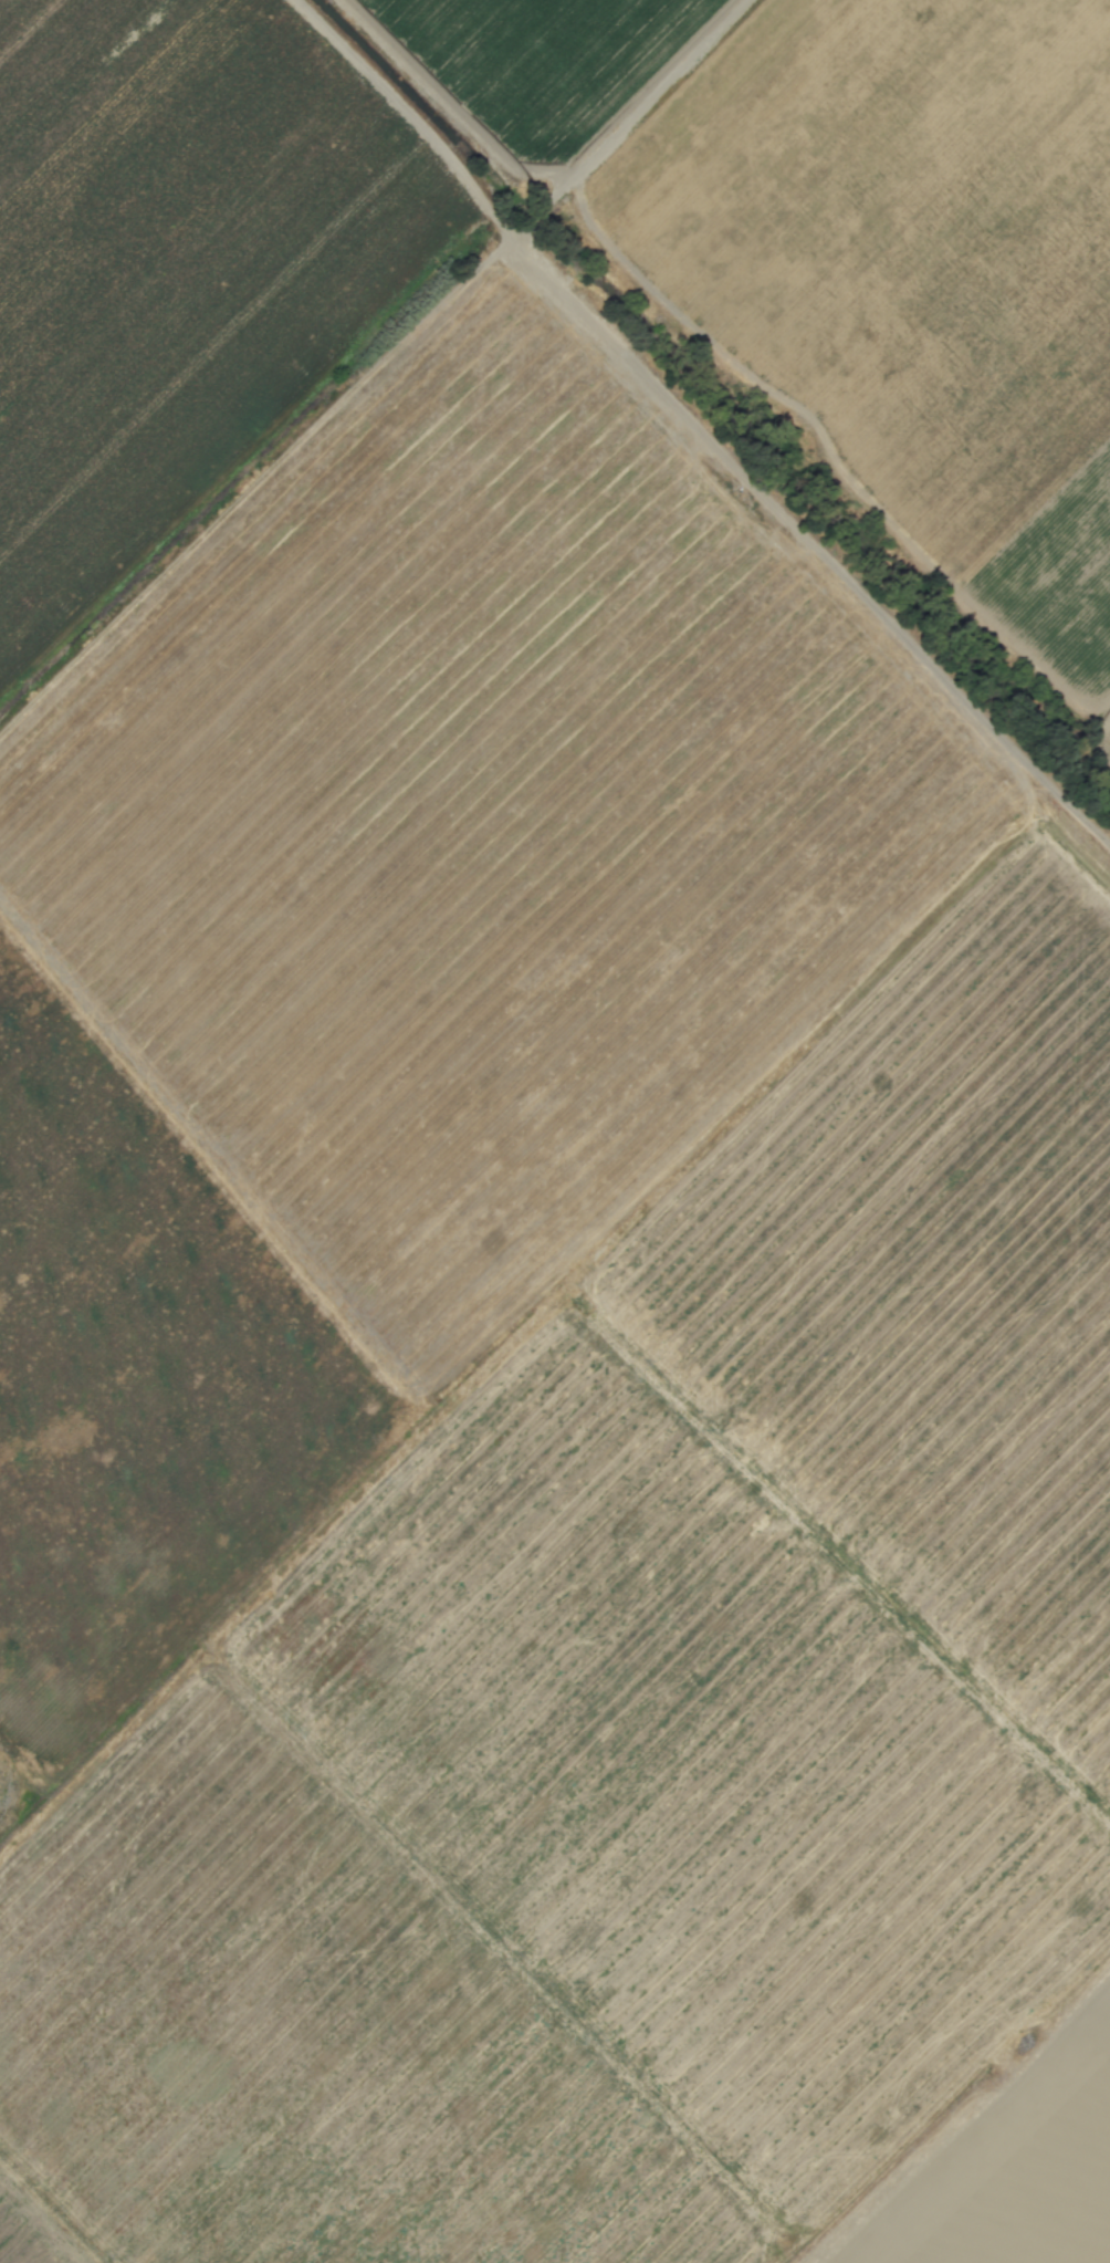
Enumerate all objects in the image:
road: (633, 122)
road: (697, 427)
crop: (555, 1131)

